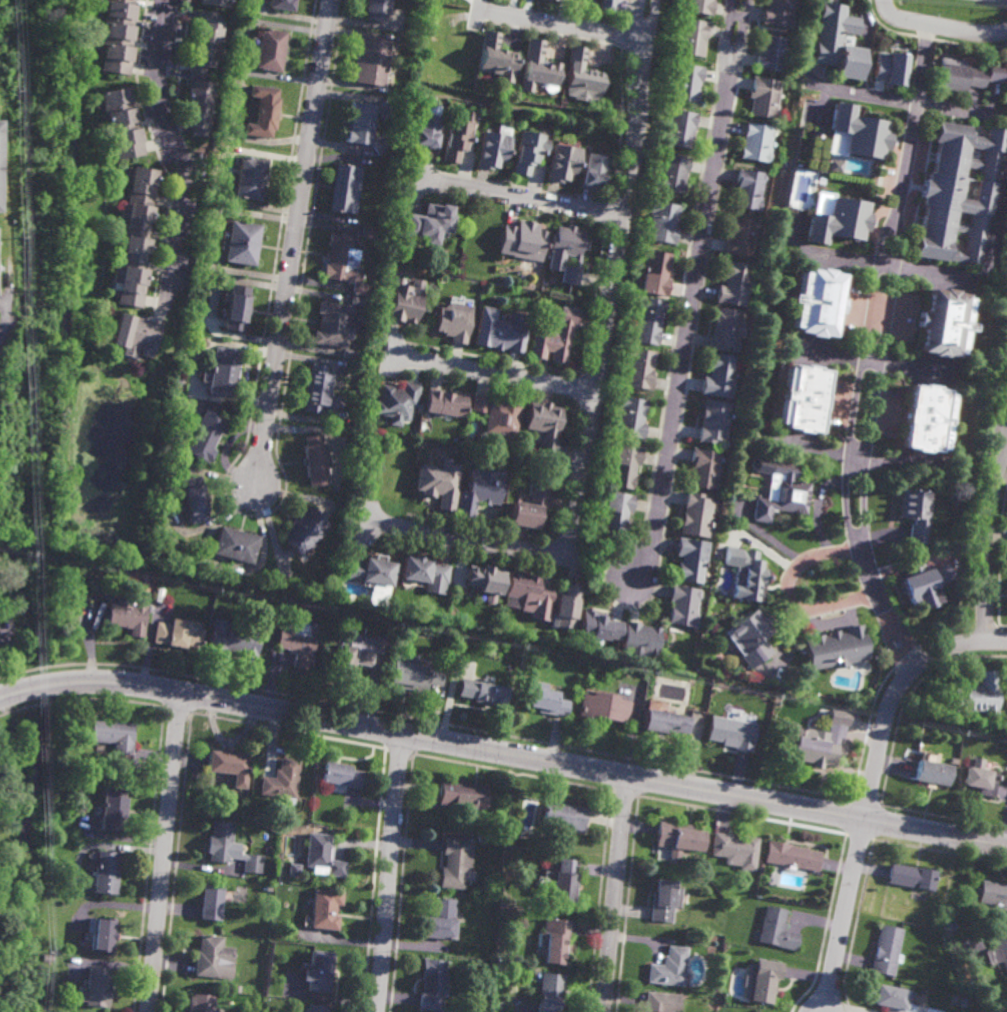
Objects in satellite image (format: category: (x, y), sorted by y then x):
building: (550, 1)
building: (452, 2)
building: (183, 3)
building: (215, 3)
building: (283, 5)
building: (607, 5)
building: (699, 7)
building: (378, 10)
building: (778, 13)
road: (638, 18)
road: (650, 20)
road: (562, 25)
road: (940, 27)
road: (725, 32)
road: (741, 33)
building: (118, 37)
building: (693, 38)
building: (837, 43)
building: (270, 51)
building: (771, 54)
building: (496, 60)
building: (372, 62)
building: (537, 69)
building: (889, 71)
building: (203, 74)
building: (995, 75)
building: (957, 76)
building: (581, 79)
building: (686, 83)
building: (1005, 94)
building: (765, 98)
road: (898, 101)
building: (263, 113)
building: (122, 125)
building: (367, 127)
building: (428, 129)
building: (679, 130)
building: (458, 137)
building: (854, 137)
building: (756, 144)
road: (174, 150)
building: (492, 152)
building: (527, 154)
building: (563, 165)
building: (810, 166)
building: (594, 173)
building: (673, 174)
building: (250, 181)
building: (346, 189)
building: (750, 190)
road: (516, 197)
building: (965, 197)
building: (836, 215)
building: (430, 220)
building: (664, 220)
building: (371, 231)
building: (743, 236)
building: (136, 238)
building: (523, 239)
road: (293, 240)
building: (241, 241)
building: (567, 251)
building: (344, 261)
building: (656, 272)
building: (735, 283)
road: (609, 297)
building: (359, 300)
building: (816, 300)
building: (405, 301)
building: (236, 306)
building: (650, 318)
building: (455, 320)
building: (946, 321)
road: (687, 322)
building: (336, 324)
building: (727, 328)
building: (500, 331)
building: (135, 332)
building: (556, 336)
road: (876, 349)
building: (351, 354)
building: (1004, 362)
building: (640, 368)
building: (223, 370)
road: (490, 372)
building: (720, 375)
building: (319, 389)
building: (804, 397)
building: (396, 401)
building: (447, 401)
building: (499, 416)
building: (632, 417)
building: (928, 418)
building: (715, 420)
building: (545, 426)
building: (206, 435)
building: (315, 460)
building: (624, 466)
building: (705, 468)
building: (440, 483)
building: (780, 490)
building: (480, 491)
building: (194, 499)
building: (742, 501)
building: (530, 510)
building: (616, 513)
building: (916, 513)
building: (697, 515)
building: (305, 531)
road: (462, 538)
road: (986, 541)
building: (235, 545)
building: (719, 553)
building: (691, 560)
building: (372, 572)
building: (426, 573)
building: (747, 575)
building: (484, 578)
building: (926, 585)
building: (529, 594)
road: (788, 594)
building: (287, 597)
building: (683, 606)
building: (566, 607)
building: (130, 613)
building: (598, 628)
building: (178, 634)
building: (751, 637)
building: (233, 639)
building: (640, 639)
building: (298, 642)
building: (838, 648)
building: (358, 653)
building: (413, 674)
building: (483, 693)
building: (981, 698)
building: (548, 701)
building: (605, 708)
building: (666, 724)
building: (733, 733)
building: (116, 741)
building: (818, 745)
road: (503, 754)
building: (230, 767)
building: (933, 774)
building: (341, 776)
building: (981, 780)
building: (282, 781)
road: (871, 786)
building: (463, 797)
building: (115, 810)
building: (564, 817)
building: (558, 837)
building: (679, 840)
building: (231, 849)
building: (735, 851)
road: (166, 852)
building: (792, 857)
building: (322, 858)
building: (455, 862)
building: (293, 871)
building: (108, 872)
road: (390, 873)
building: (911, 877)
building: (562, 879)
road: (615, 895)
building: (994, 896)
building: (666, 899)
building: (212, 900)
building: (325, 907)
building: (441, 918)
building: (950, 925)
building: (776, 929)
building: (105, 933)
building: (555, 940)
building: (886, 949)
building: (998, 951)
building: (212, 954)
building: (48, 958)
building: (671, 967)
building: (318, 970)
building: (764, 979)
building: (432, 984)
building: (97, 987)
building: (550, 990)
building: (890, 997)
building: (663, 1001)
building: (201, 1002)
building: (316, 1007)
building: (299, 1011)

